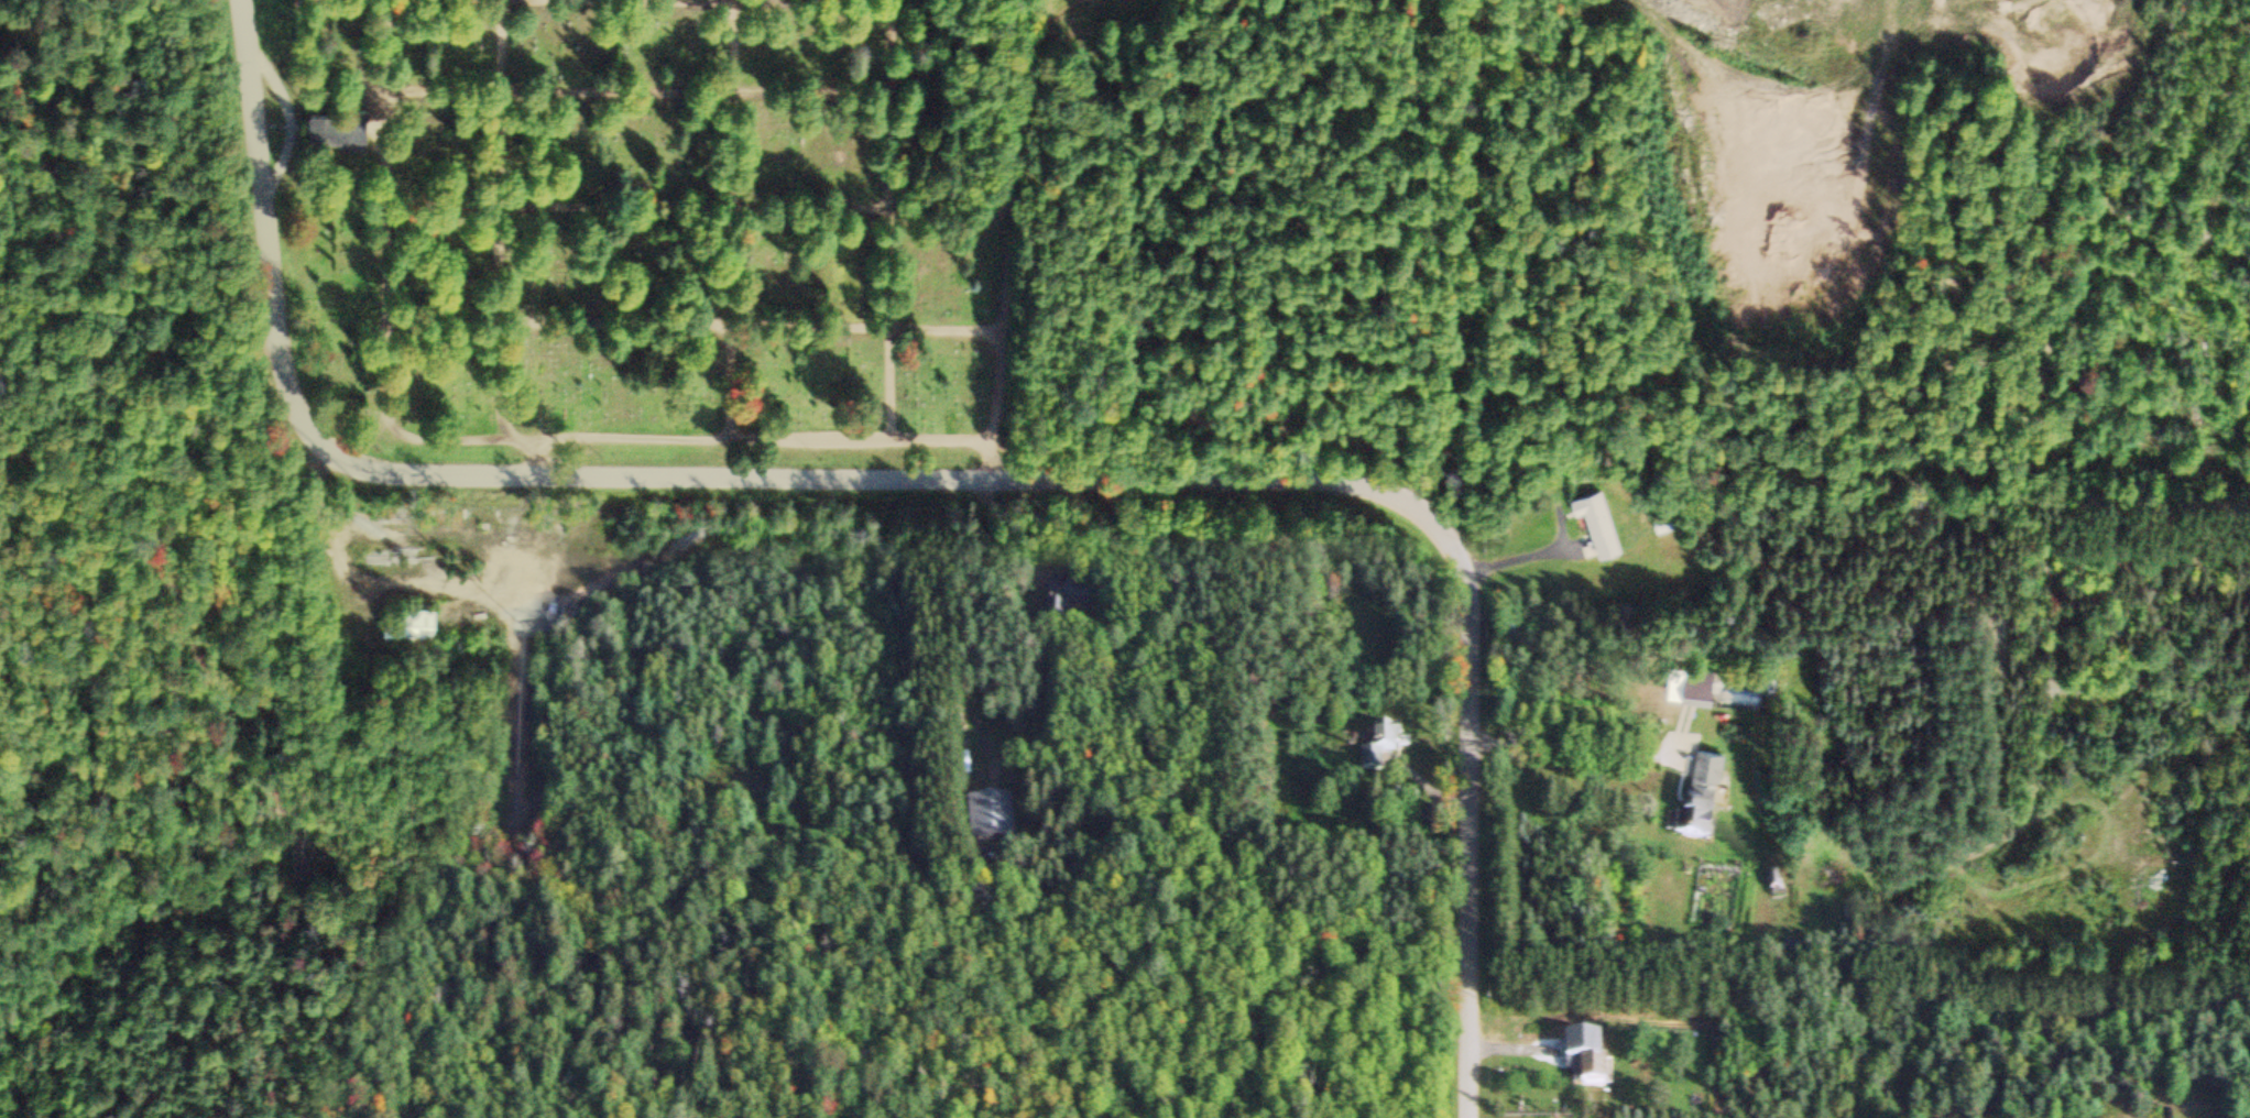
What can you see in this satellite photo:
road: (716, 4)
road: (740, 48)
road: (478, 91)
road: (820, 99)
building: (340, 129)
road: (642, 213)
road: (495, 222)
park: (671, 224)
road: (1004, 240)
road: (735, 270)
road: (1511, 270)
road: (692, 324)
road: (645, 442)
road: (941, 446)
road: (653, 478)
building: (1665, 520)
building: (1602, 523)
building: (1062, 610)
road: (205, 659)
building: (1381, 753)
building: (1708, 780)
building: (992, 819)
road: (1471, 821)
building: (1433, 822)
building: (1597, 1068)

